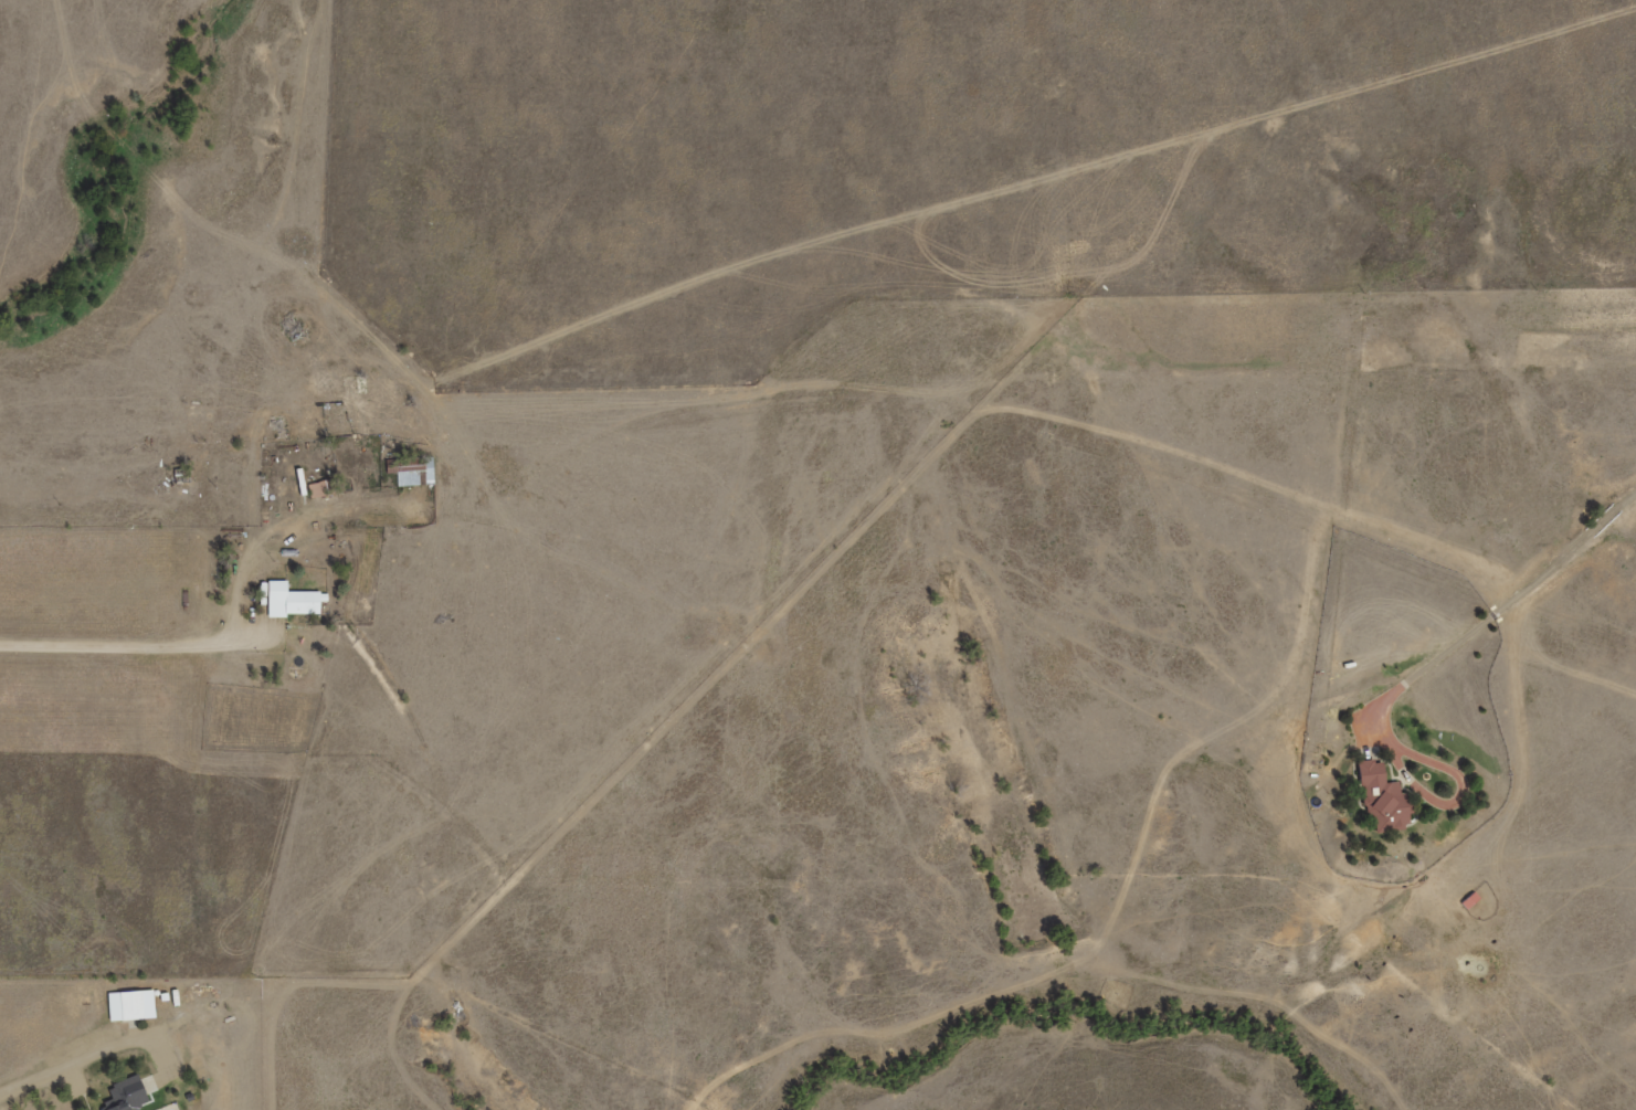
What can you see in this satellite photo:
building: (294, 603)
road: (1498, 612)
road: (136, 641)
building: (1379, 799)
road: (1453, 799)
building: (1401, 947)
building: (138, 1008)
road: (95, 1060)
building: (125, 1096)
building: (138, 1099)

